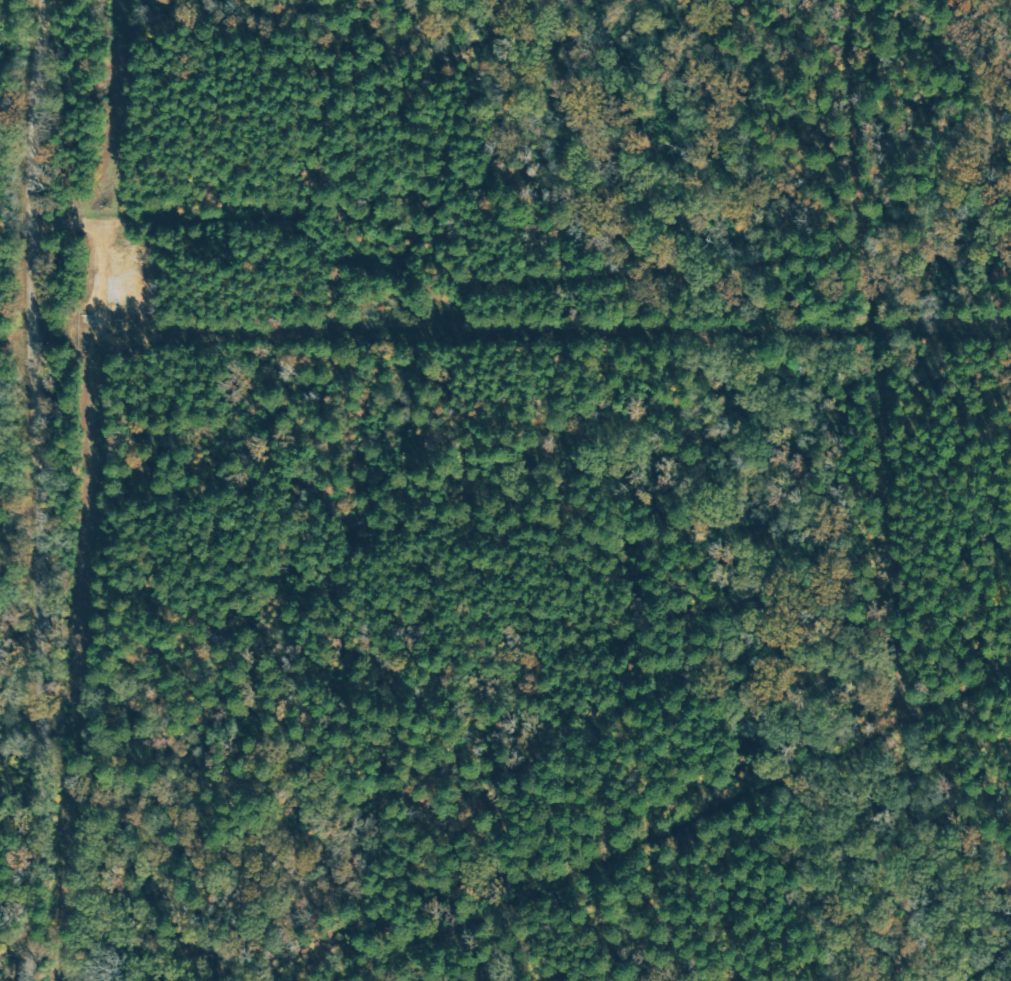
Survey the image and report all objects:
road: (52, 492)

